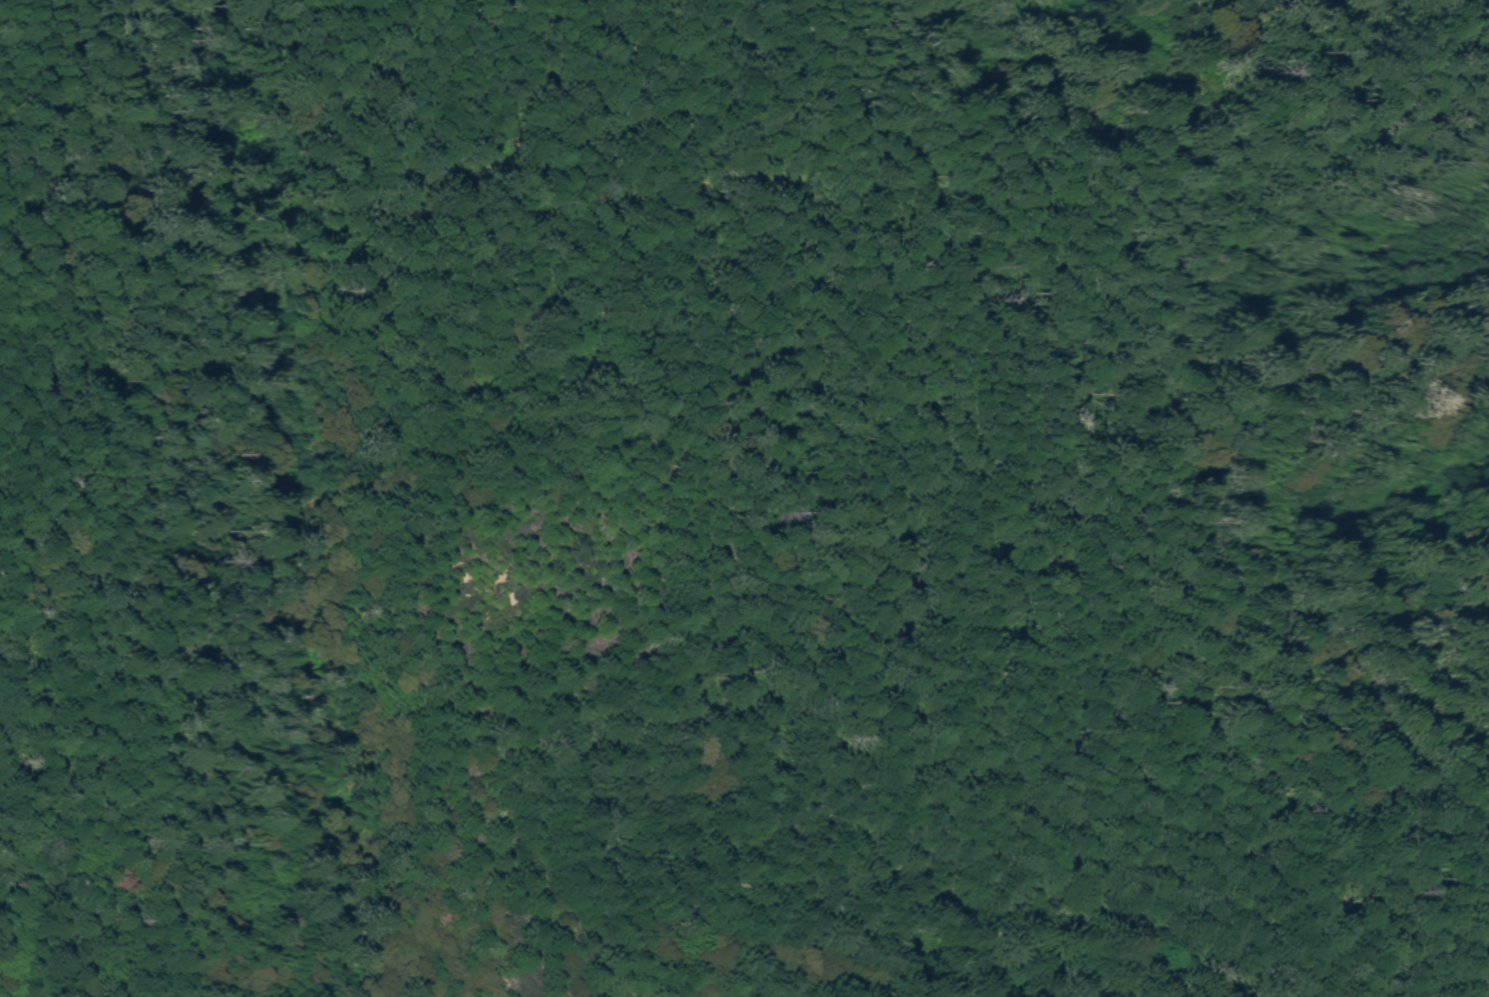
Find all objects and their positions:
road: (675, 528)

